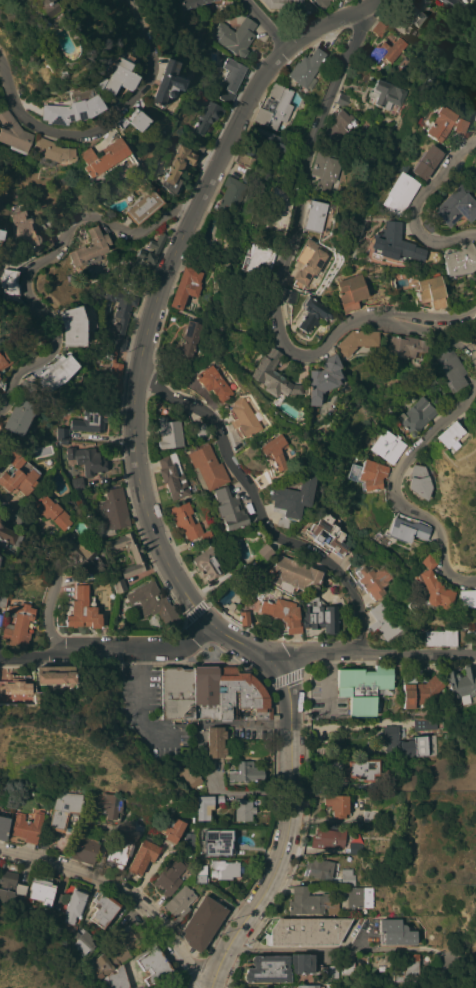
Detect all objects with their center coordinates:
building: (348, 0)
building: (18, 1)
building: (191, 3)
building: (322, 3)
building: (453, 3)
building: (285, 4)
building: (43, 7)
building: (412, 15)
road: (334, 22)
road: (267, 23)
building: (379, 29)
building: (236, 36)
building: (386, 50)
building: (307, 68)
building: (117, 74)
building: (58, 75)
building: (230, 79)
building: (167, 82)
building: (387, 94)
building: (342, 99)
building: (275, 108)
building: (72, 109)
building: (208, 116)
building: (475, 116)
building: (137, 117)
building: (339, 124)
building: (443, 124)
road: (100, 128)
building: (13, 133)
building: (265, 141)
building: (200, 145)
building: (51, 151)
building: (103, 157)
building: (244, 158)
building: (425, 161)
building: (178, 167)
building: (475, 170)
building: (325, 171)
building: (397, 193)
building: (233, 196)
road: (197, 205)
road: (411, 205)
building: (453, 205)
building: (142, 206)
building: (278, 211)
building: (315, 215)
building: (425, 225)
building: (22, 230)
building: (0, 233)
building: (391, 243)
building: (91, 247)
building: (258, 260)
building: (458, 260)
building: (307, 261)
building: (139, 262)
road: (37, 263)
building: (8, 281)
road: (276, 282)
building: (187, 286)
building: (427, 292)
building: (347, 293)
building: (288, 296)
building: (310, 313)
building: (120, 314)
road: (424, 315)
building: (72, 325)
building: (188, 339)
building: (357, 341)
building: (475, 341)
building: (404, 346)
building: (4, 357)
building: (450, 367)
building: (0, 368)
building: (56, 372)
building: (113, 372)
building: (270, 376)
building: (322, 378)
building: (213, 382)
building: (0, 390)
building: (20, 409)
building: (417, 415)
building: (242, 418)
building: (91, 419)
building: (201, 431)
building: (170, 433)
building: (62, 435)
building: (451, 435)
building: (387, 446)
building: (275, 452)
building: (85, 459)
building: (207, 467)
building: (369, 474)
building: (18, 475)
building: (173, 476)
building: (261, 480)
building: (419, 481)
building: (77, 483)
road: (394, 487)
building: (292, 499)
building: (229, 508)
road: (258, 509)
building: (50, 511)
building: (113, 512)
building: (185, 520)
building: (406, 530)
building: (329, 534)
building: (9, 536)
road: (156, 539)
building: (265, 551)
building: (84, 556)
building: (138, 557)
building: (206, 564)
road: (54, 569)
building: (294, 573)
building: (374, 580)
building: (432, 584)
building: (119, 585)
building: (467, 597)
building: (3, 601)
building: (154, 604)
building: (83, 610)
building: (283, 613)
building: (320, 615)
building: (244, 618)
building: (384, 620)
building: (18, 625)
building: (464, 636)
building: (440, 638)
road: (108, 647)
road: (370, 649)
building: (55, 674)
building: (462, 684)
building: (15, 685)
building: (364, 687)
building: (418, 688)
building: (205, 692)
building: (177, 693)
building: (240, 695)
building: (14, 698)
road: (139, 701)
parking lot: (144, 721)
building: (426, 724)
road: (345, 725)
building: (216, 742)
building: (408, 744)
building: (364, 769)
building: (239, 772)
building: (190, 775)
building: (337, 804)
building: (108, 807)
building: (204, 807)
building: (63, 809)
building: (243, 809)
building: (370, 815)
building: (27, 826)
building: (3, 827)
building: (172, 829)
road: (287, 829)
building: (328, 838)
building: (217, 841)
building: (188, 842)
building: (355, 847)
building: (85, 848)
building: (121, 849)
building: (144, 855)
building: (319, 868)
building: (225, 869)
building: (201, 874)
building: (171, 875)
building: (347, 876)
building: (9, 885)
road: (120, 888)
building: (42, 889)
building: (359, 897)
building: (58, 900)
building: (310, 902)
building: (179, 903)
building: (74, 906)
building: (104, 909)
building: (202, 923)
building: (307, 931)
building: (396, 932)
building: (82, 942)
building: (122, 947)
road: (288, 951)
building: (154, 965)
building: (305, 965)
building: (103, 966)
building: (349, 966)
building: (406, 967)
building: (268, 969)
building: (332, 971)
building: (115, 979)
building: (306, 986)

